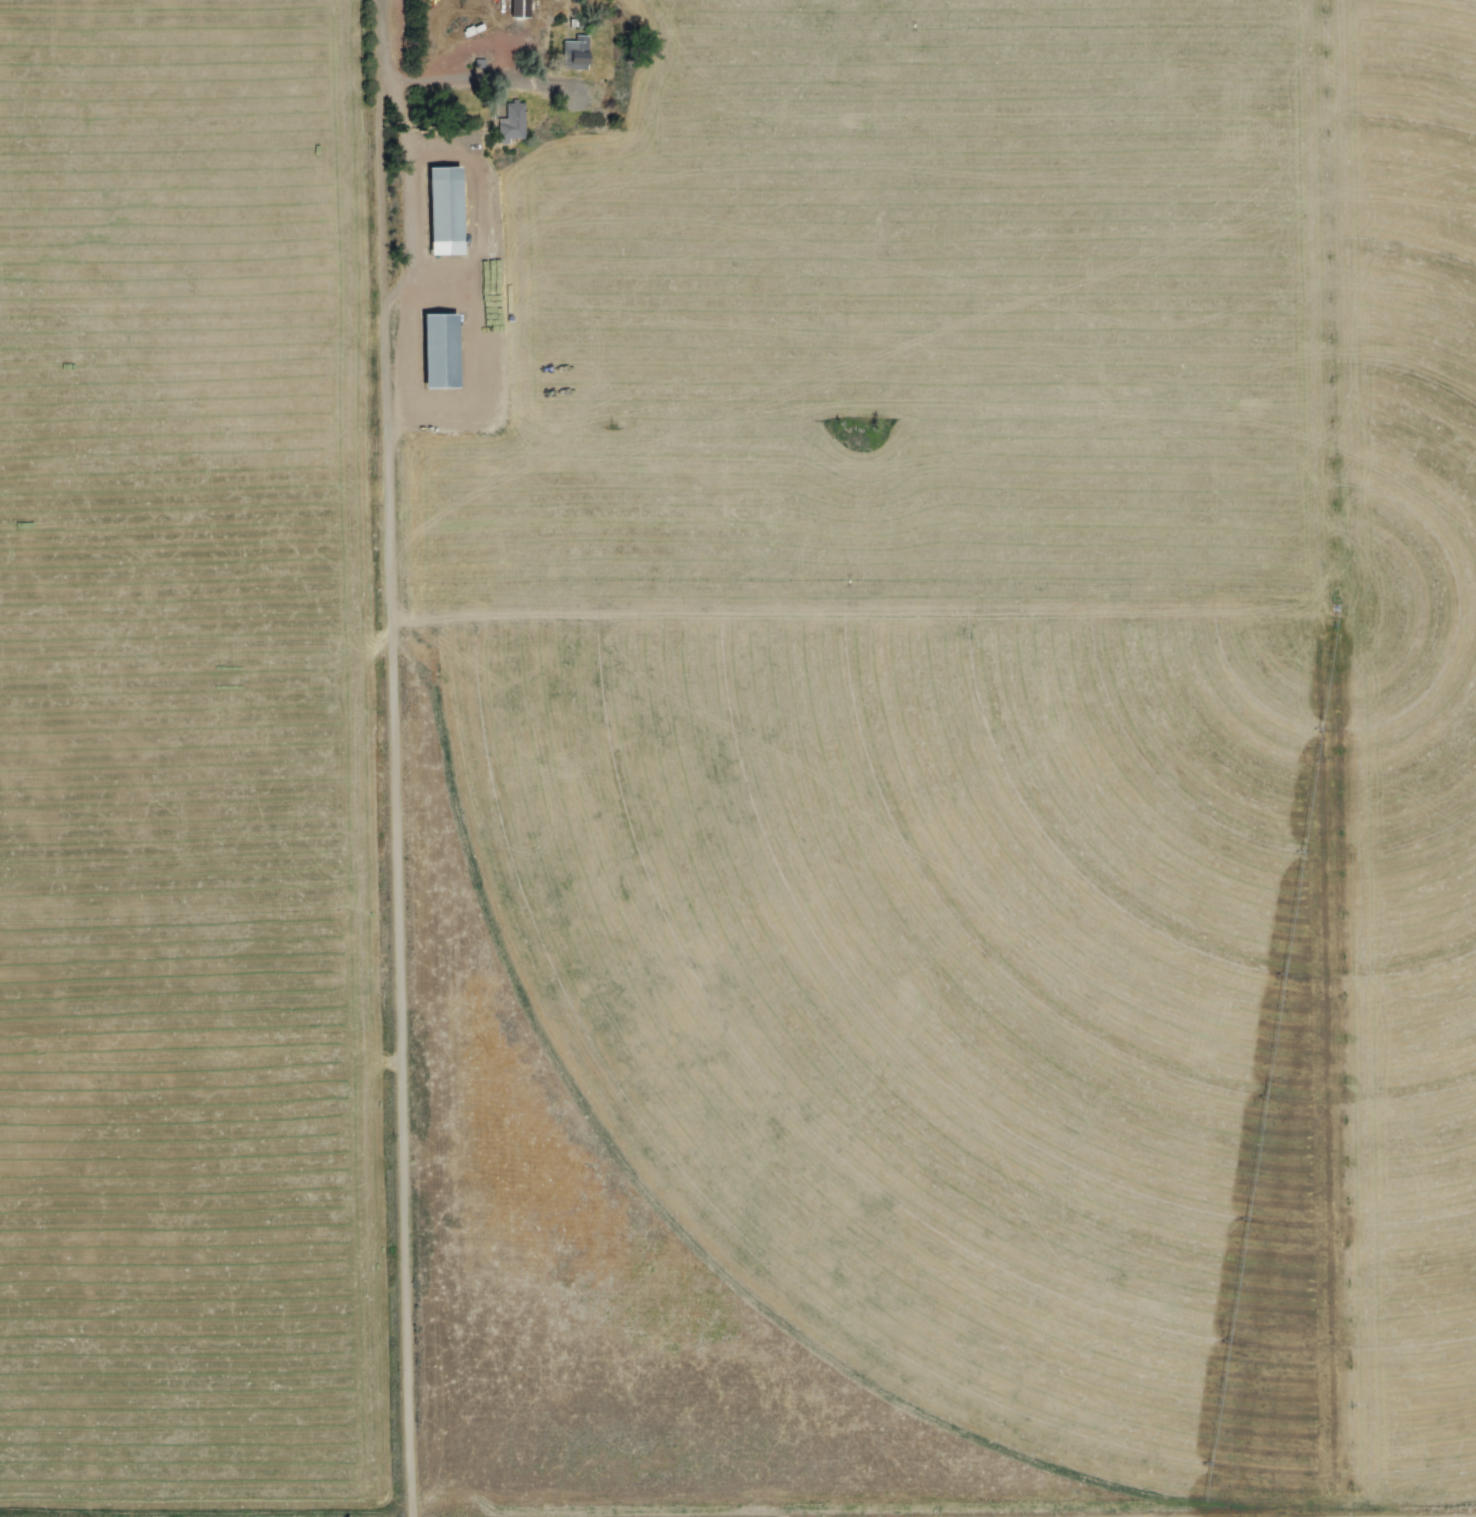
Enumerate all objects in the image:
building: (575, 54)
road: (379, 58)
road: (478, 84)
building: (511, 122)
building: (434, 208)
building: (434, 350)
road: (398, 816)

